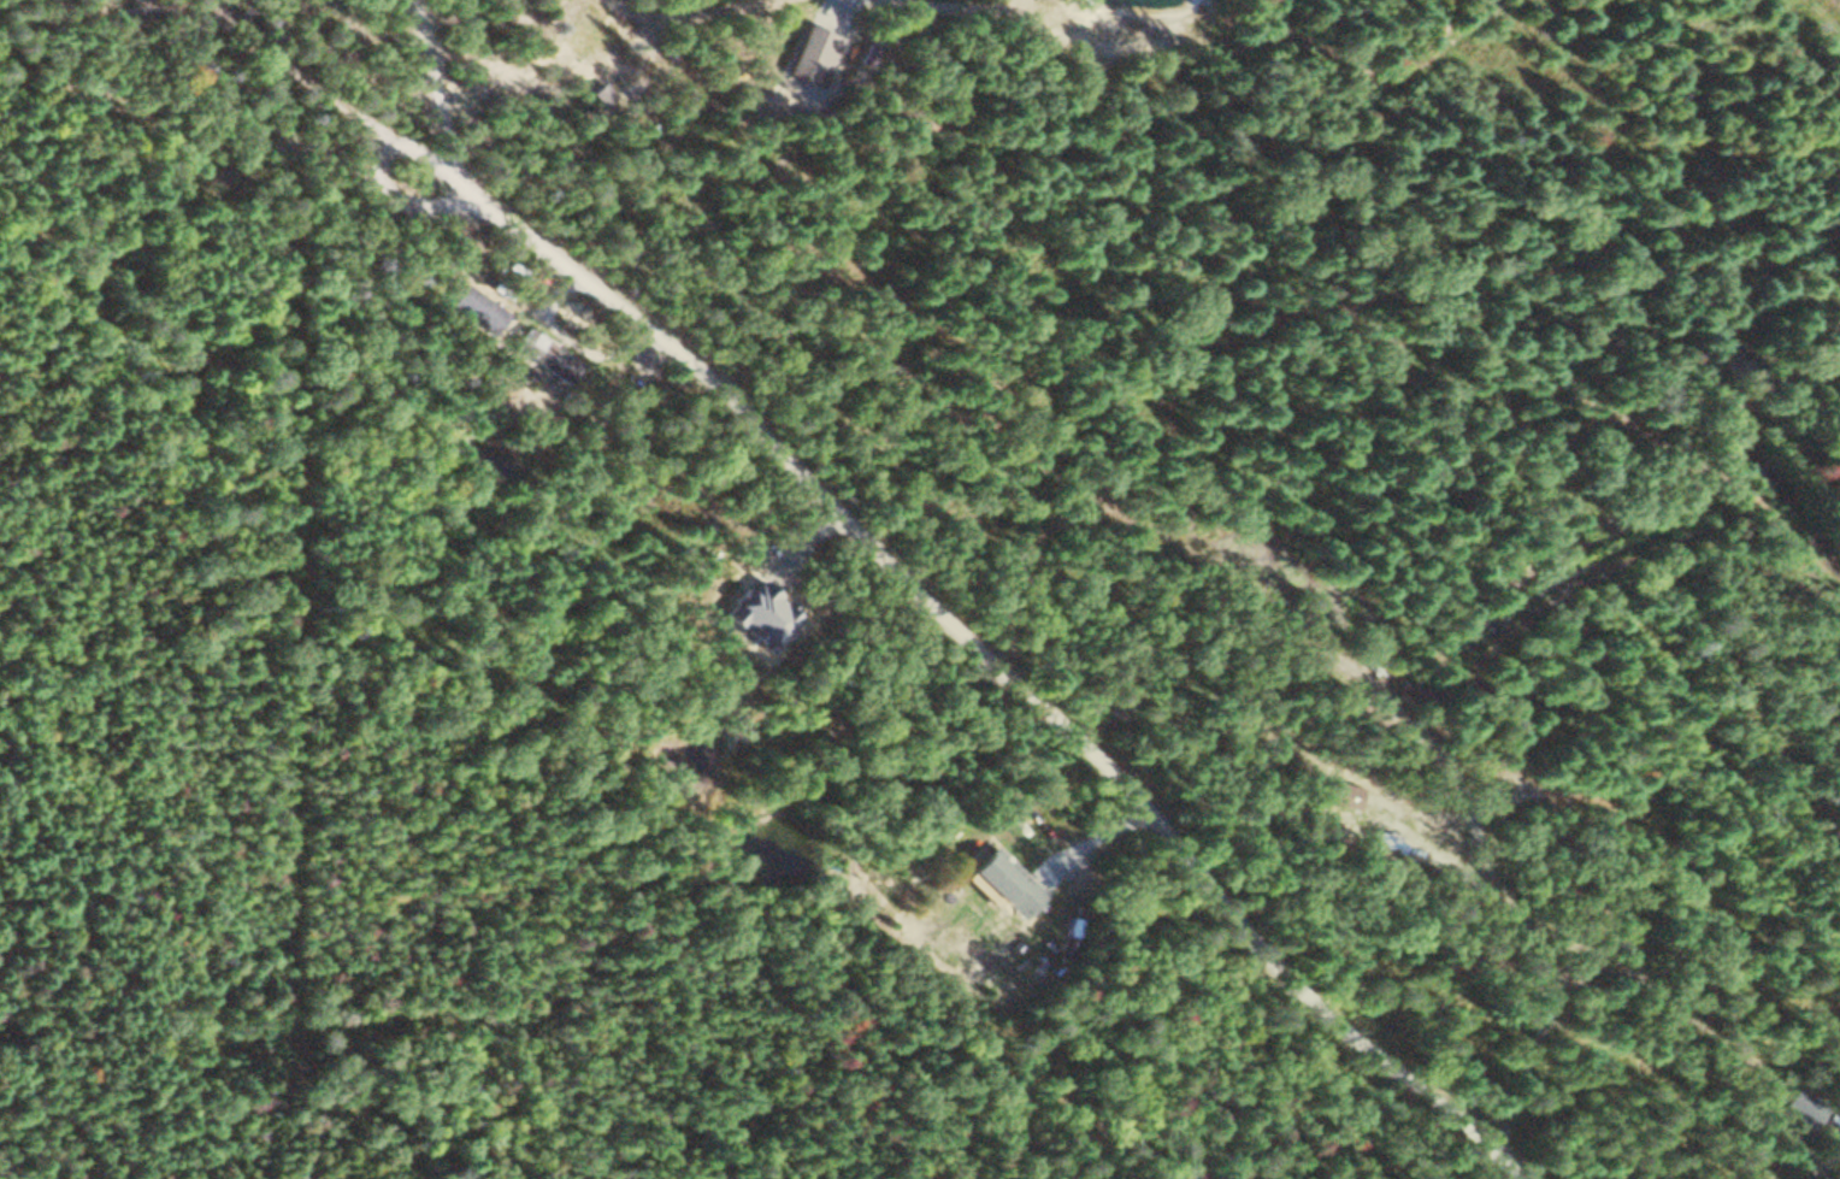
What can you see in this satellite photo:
road: (632, 8)
road: (342, 90)
road: (434, 90)
building: (602, 93)
building: (472, 307)
building: (541, 354)
road: (1001, 666)
building: (1341, 794)
building: (1426, 844)
building: (999, 879)
building: (1797, 1104)

